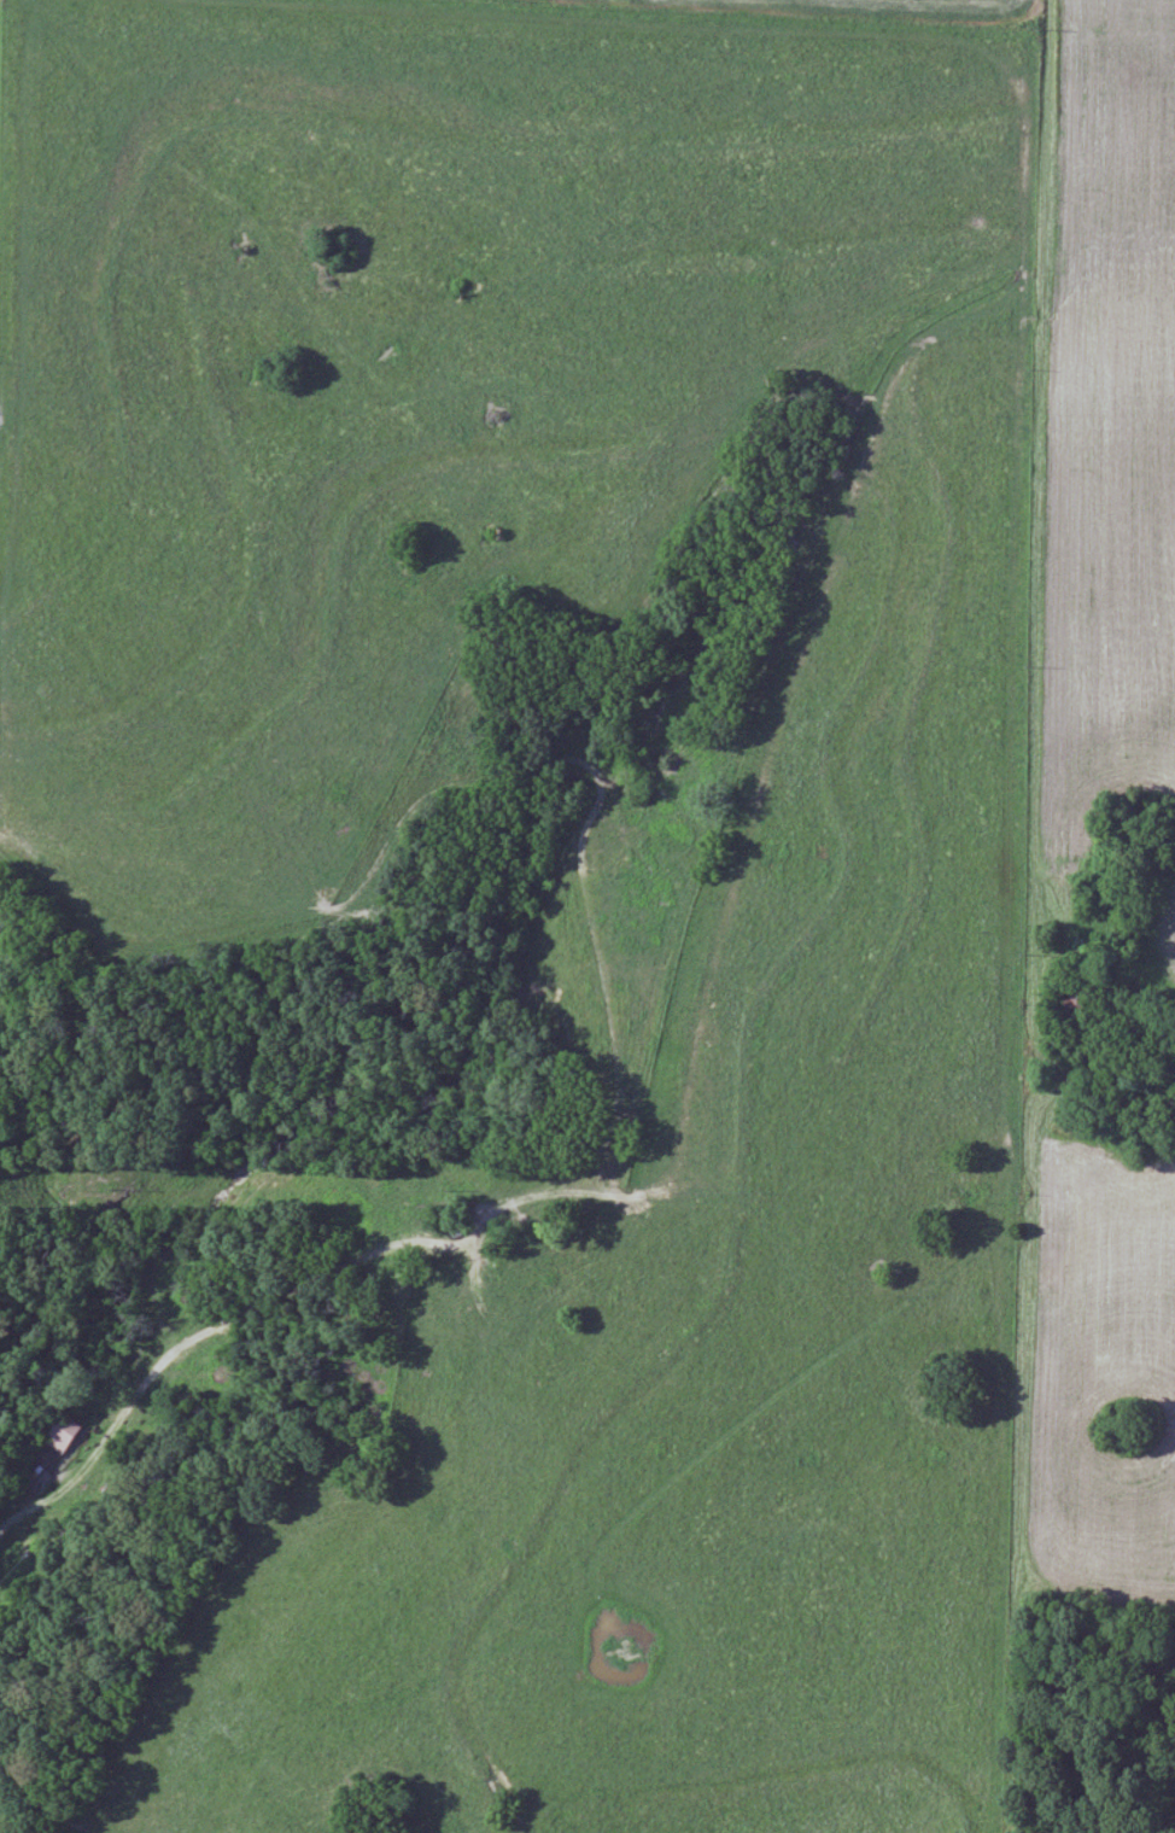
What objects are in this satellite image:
road: (1066, 461)
road: (168, 1355)
building: (57, 1432)

